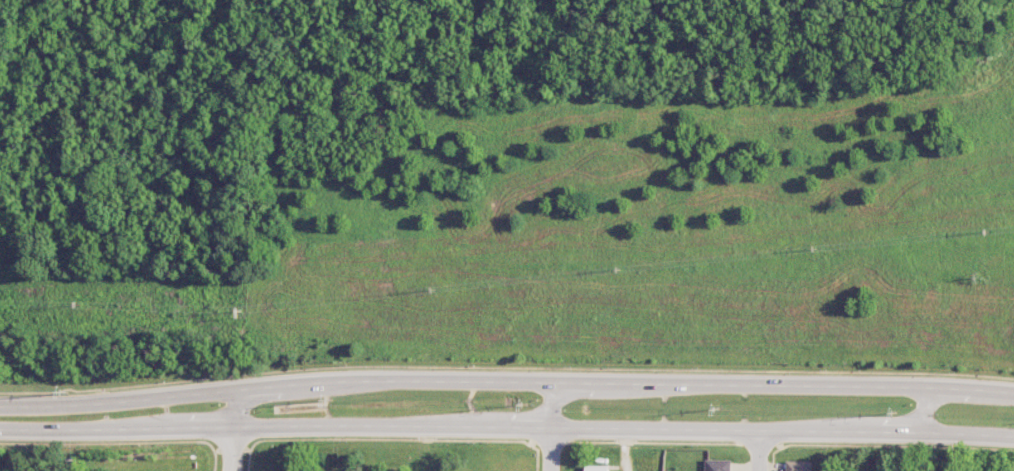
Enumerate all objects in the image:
power tower: (244, 313)
road: (218, 377)
road: (505, 381)
power tower: (68, 393)
power tower: (332, 400)
power tower: (529, 404)
power tower: (719, 408)
power tower: (896, 412)
road: (507, 426)
road: (553, 426)
road: (233, 430)
road: (759, 450)
building: (718, 465)
building: (799, 465)
building: (597, 468)

